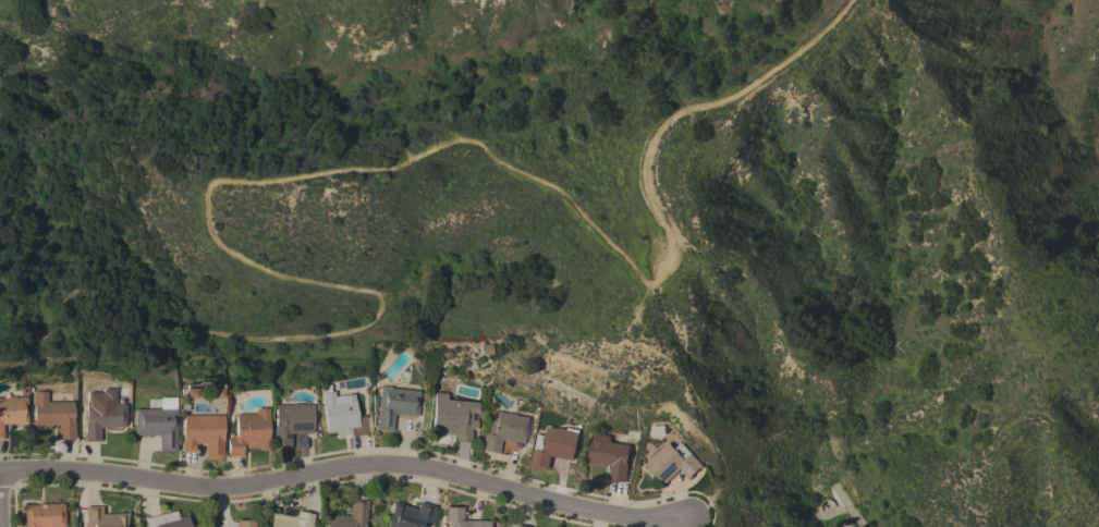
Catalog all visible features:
road: (691, 110)
road: (239, 254)
building: (394, 405)
building: (12, 412)
building: (101, 413)
road: (700, 413)
building: (53, 415)
building: (342, 416)
building: (453, 417)
building: (290, 422)
building: (157, 424)
building: (503, 430)
building: (247, 432)
building: (203, 434)
building: (552, 446)
building: (609, 455)
building: (672, 462)
road: (346, 469)
building: (44, 515)
building: (411, 515)
building: (350, 516)
building: (103, 517)
building: (461, 518)
building: (291, 519)
building: (167, 520)
building: (244, 523)
building: (516, 526)

